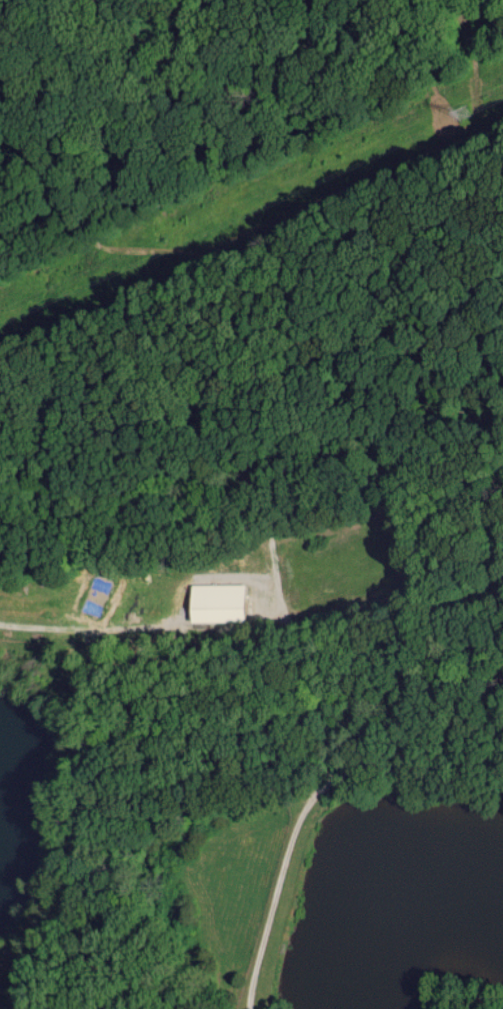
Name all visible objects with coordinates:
building: (223, 601)

